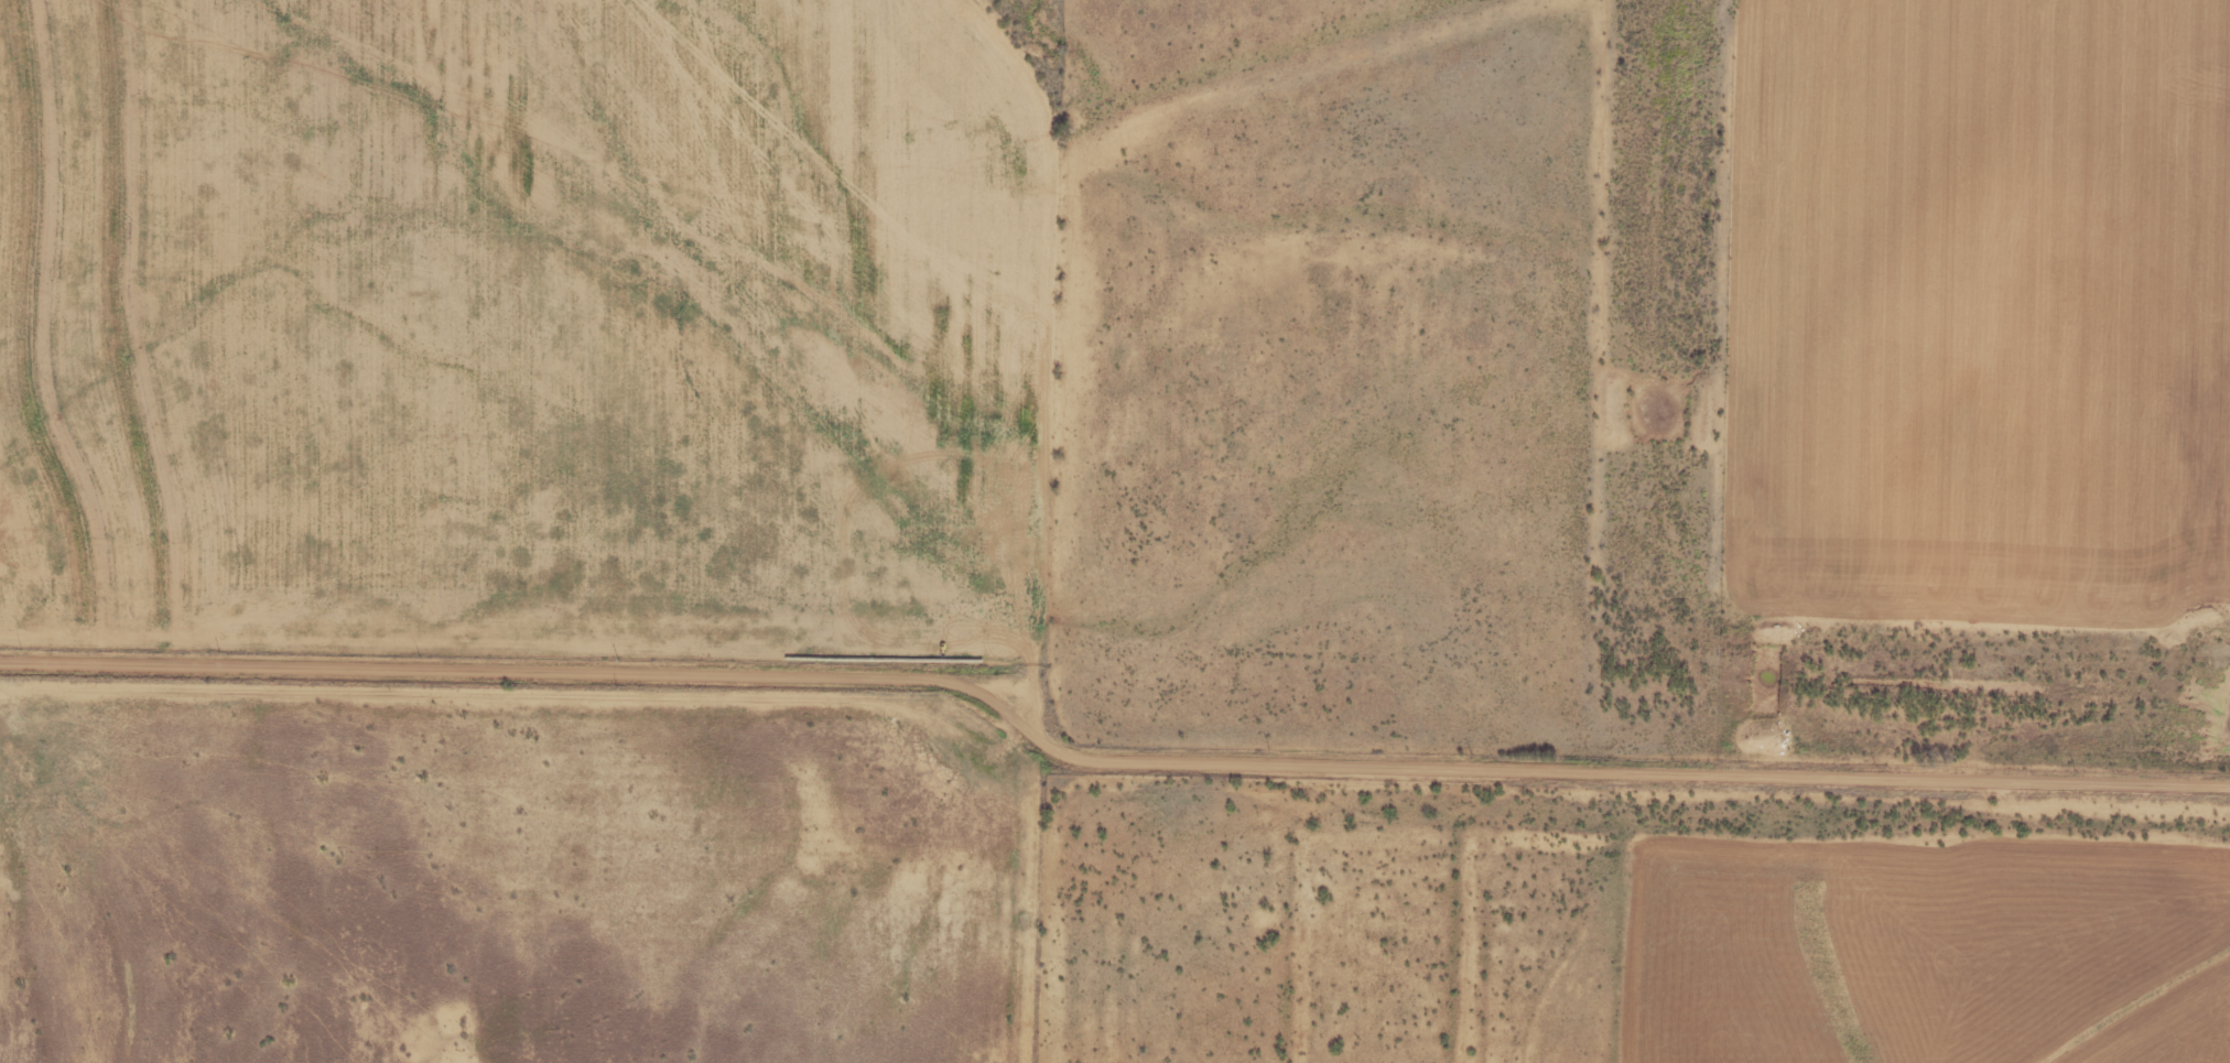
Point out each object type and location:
road: (1104, 758)

